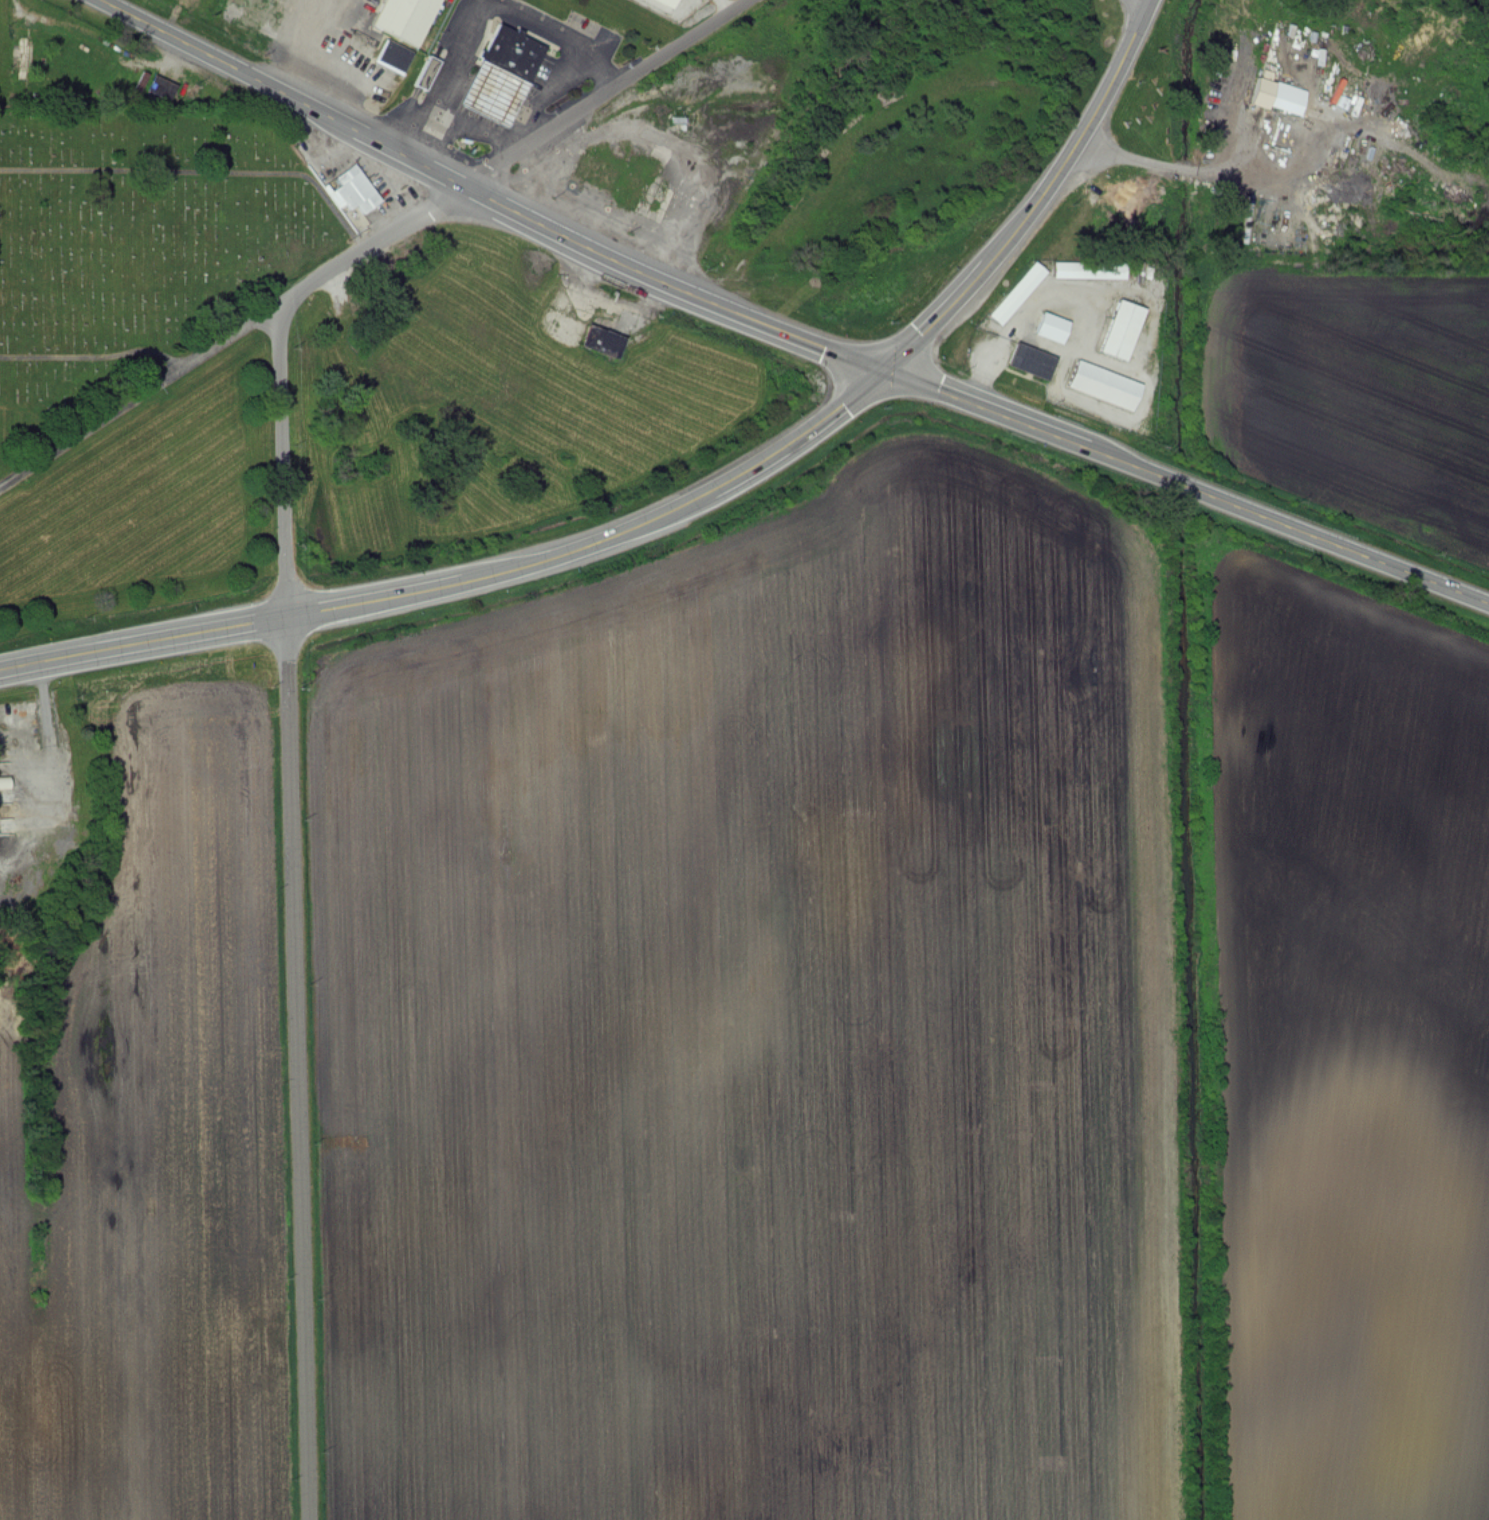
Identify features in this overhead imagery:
road: (482, 14)
building: (406, 18)
road: (315, 51)
building: (22, 53)
building: (512, 65)
building: (162, 87)
building: (1268, 88)
road: (549, 101)
road: (473, 128)
road: (1137, 160)
road: (1259, 162)
building: (356, 190)
road: (372, 245)
park: (138, 248)
building: (1089, 271)
building: (1017, 294)
building: (609, 312)
building: (1052, 328)
building: (1122, 330)
road: (782, 331)
building: (603, 342)
building: (1032, 362)
traffic signals: (887, 369)
building: (1104, 385)
road: (682, 505)
road: (294, 913)

